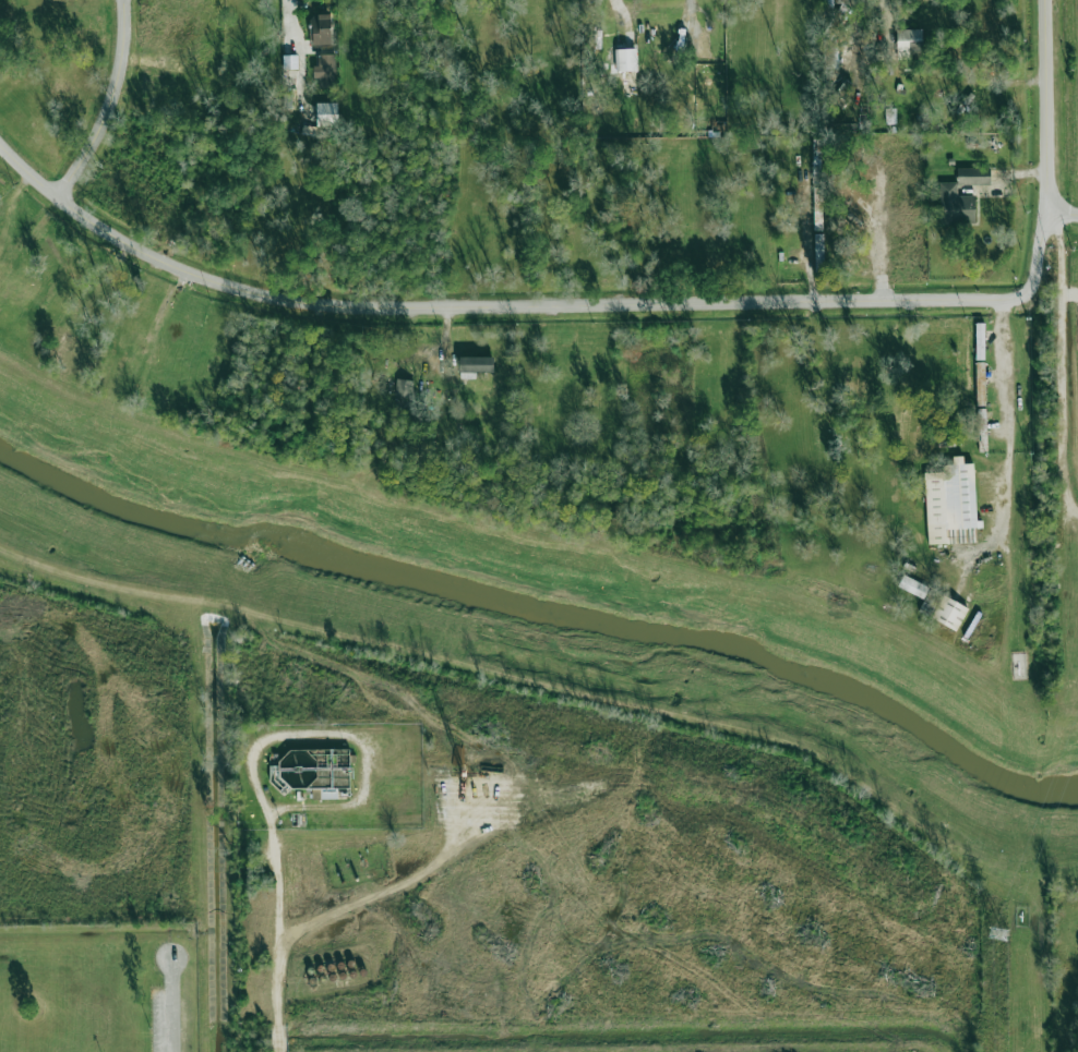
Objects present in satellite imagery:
building: (321, 28)
building: (908, 41)
building: (625, 59)
building: (326, 70)
road: (108, 104)
road: (1047, 107)
building: (326, 114)
building: (973, 176)
building: (903, 199)
building: (956, 205)
road: (1064, 214)
road: (879, 238)
road: (807, 256)
road: (534, 305)
building: (979, 341)
road: (1062, 359)
building: (475, 365)
building: (980, 384)
building: (404, 387)
road: (1006, 412)
building: (949, 499)
building: (912, 585)
building: (930, 602)
river: (552, 610)
building: (949, 613)
road: (403, 715)
road: (349, 735)
road: (287, 929)
power tower: (1001, 933)
park: (98, 988)
road: (171, 1004)
park: (50, 1045)

